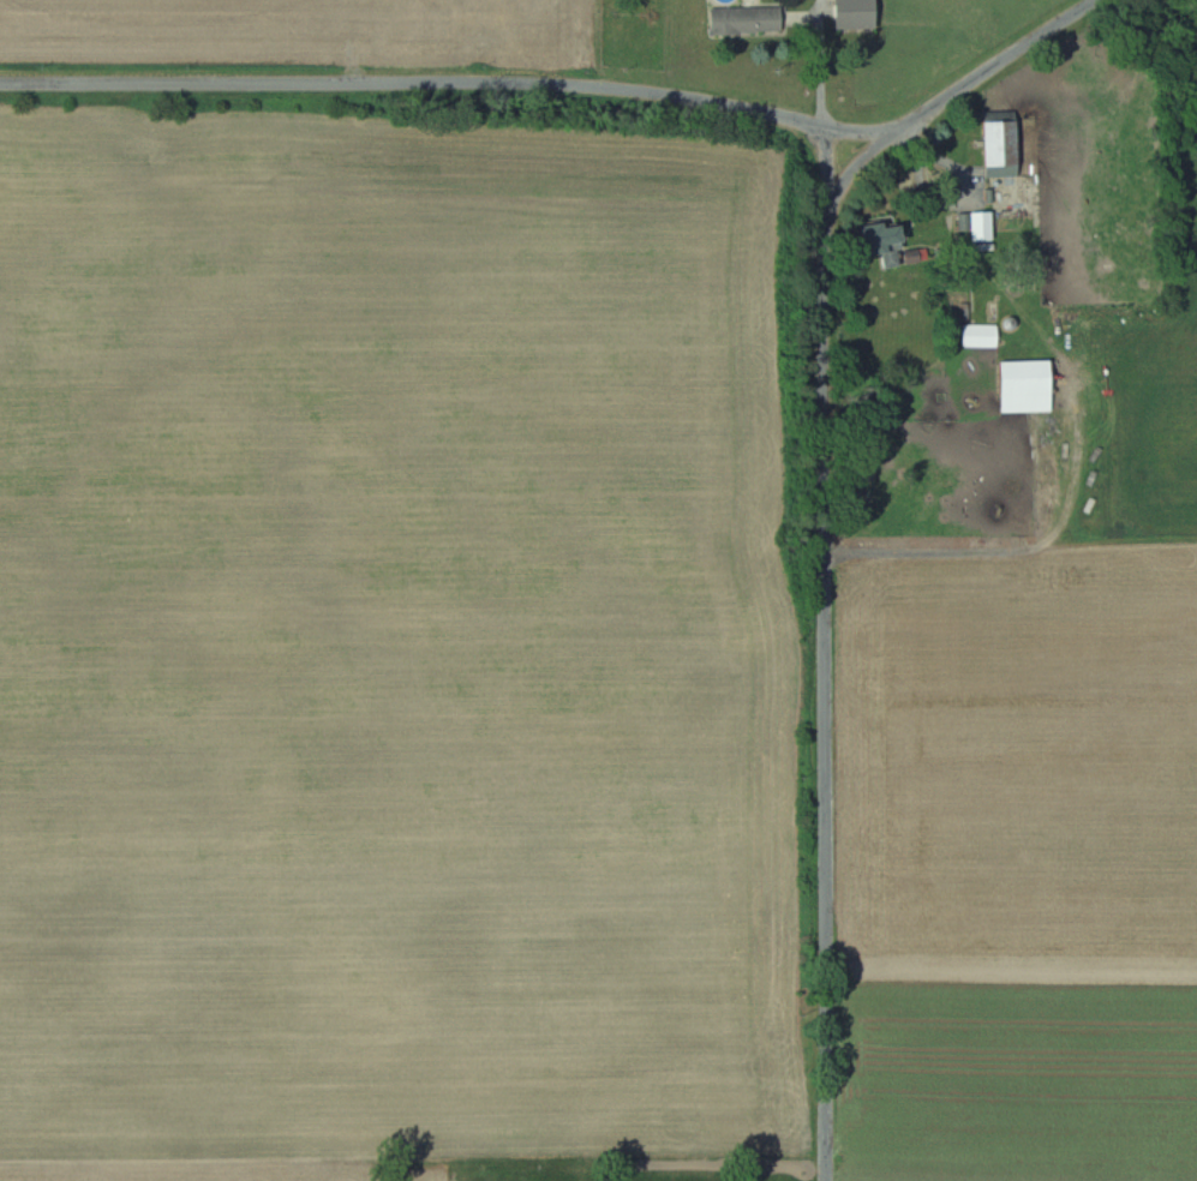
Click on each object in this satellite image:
building: (854, 13)
building: (744, 19)
road: (821, 62)
road: (448, 83)
road: (959, 89)
road: (854, 131)
building: (999, 145)
building: (980, 226)
building: (882, 242)
building: (978, 334)
building: (1024, 385)
road: (826, 688)

